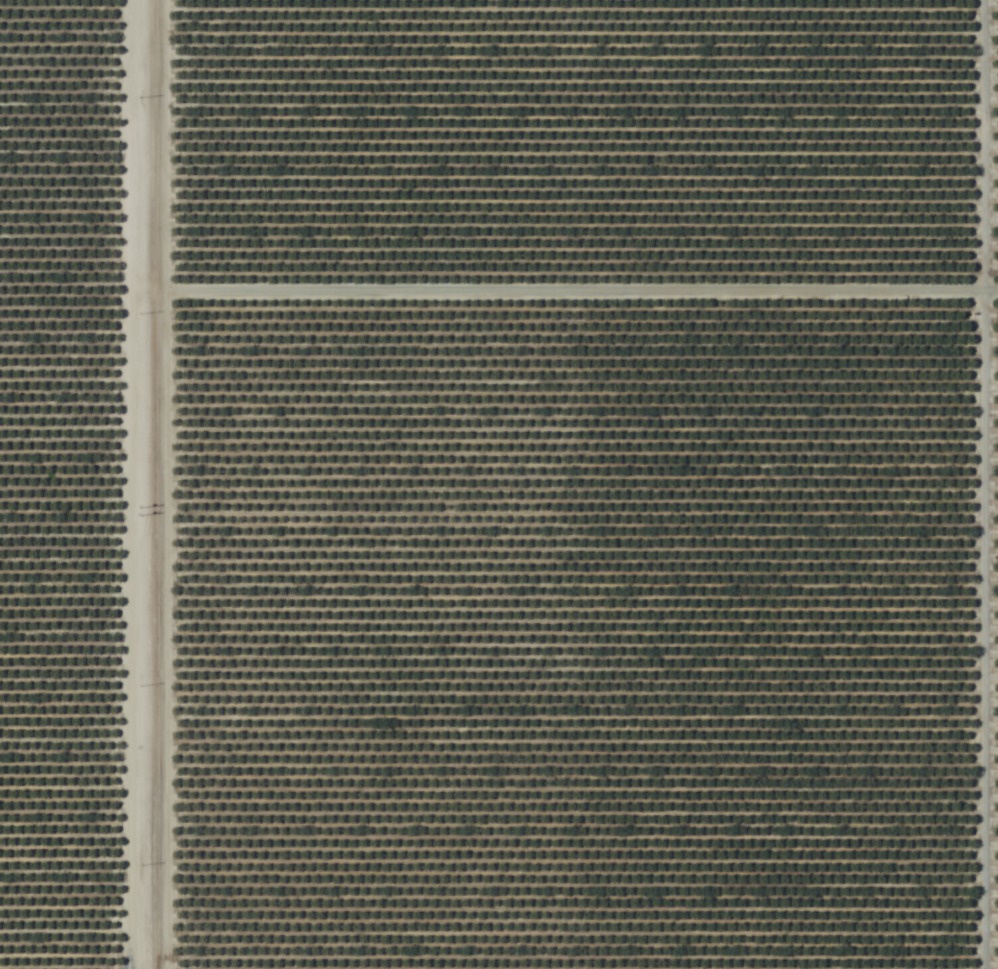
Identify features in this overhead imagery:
road: (571, 294)
road: (146, 484)
crop: (499, 484)
road: (983, 484)

